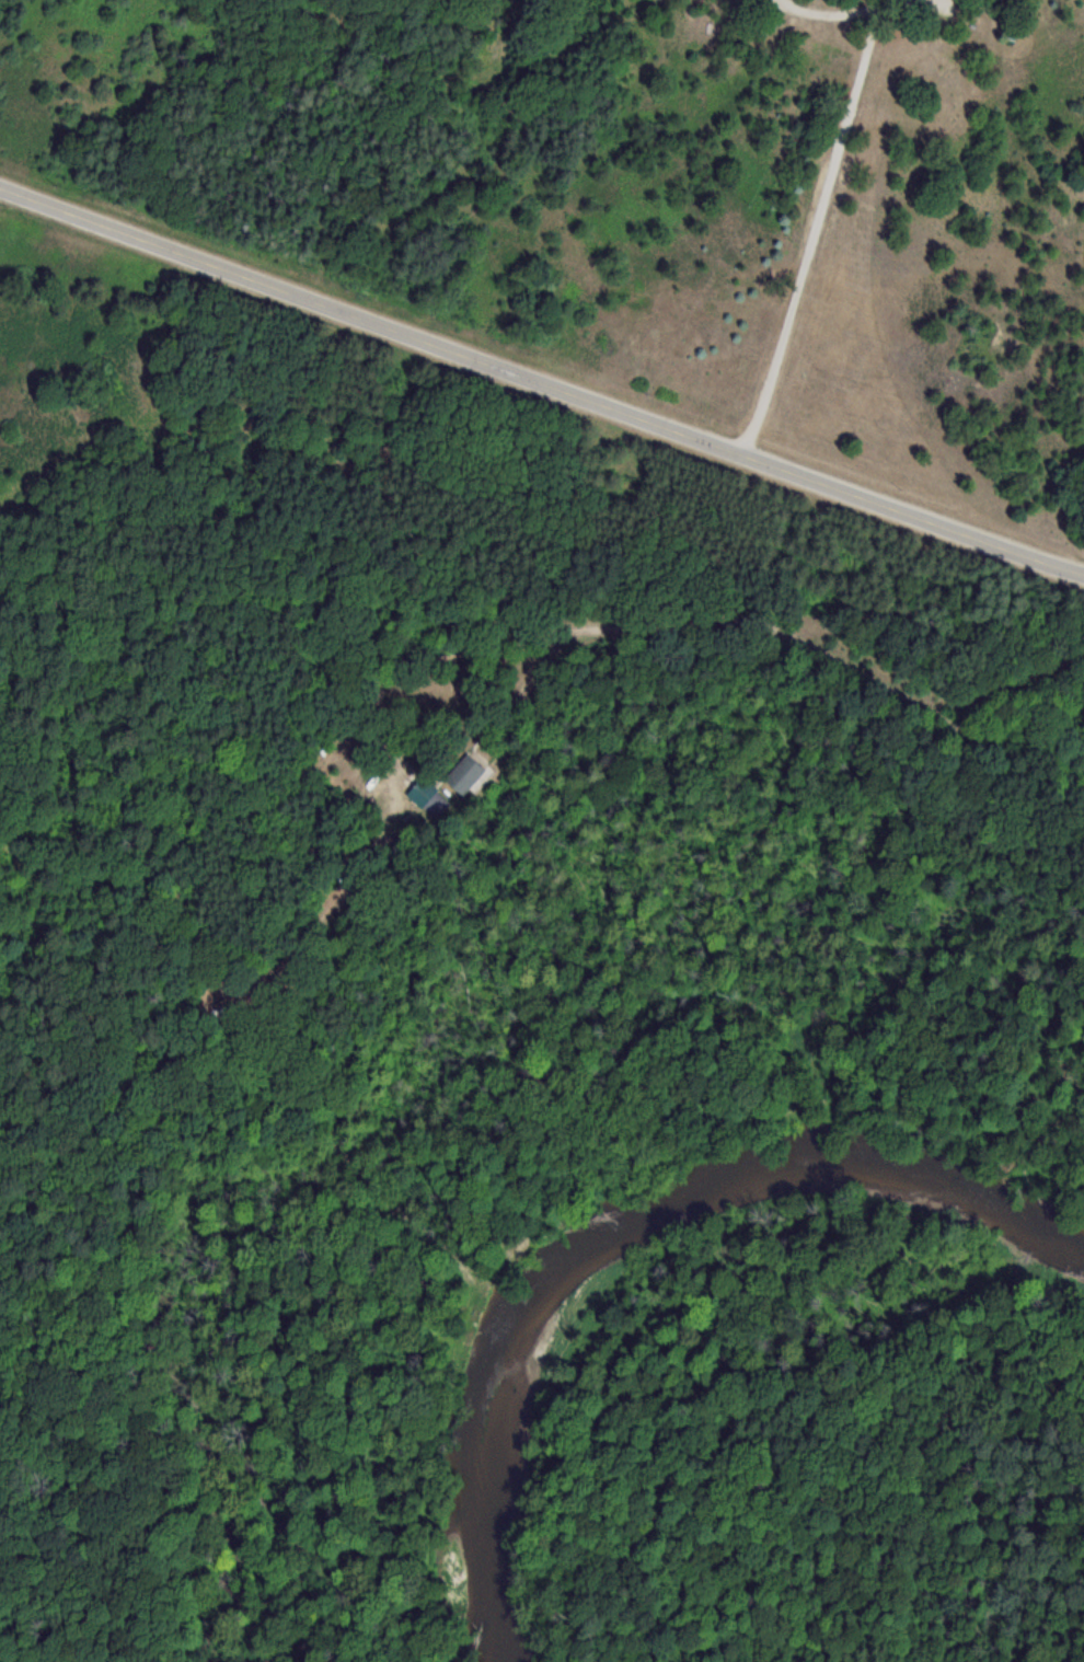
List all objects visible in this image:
road: (808, 220)
road: (541, 376)
road: (804, 640)
building: (461, 774)
river: (619, 1221)

